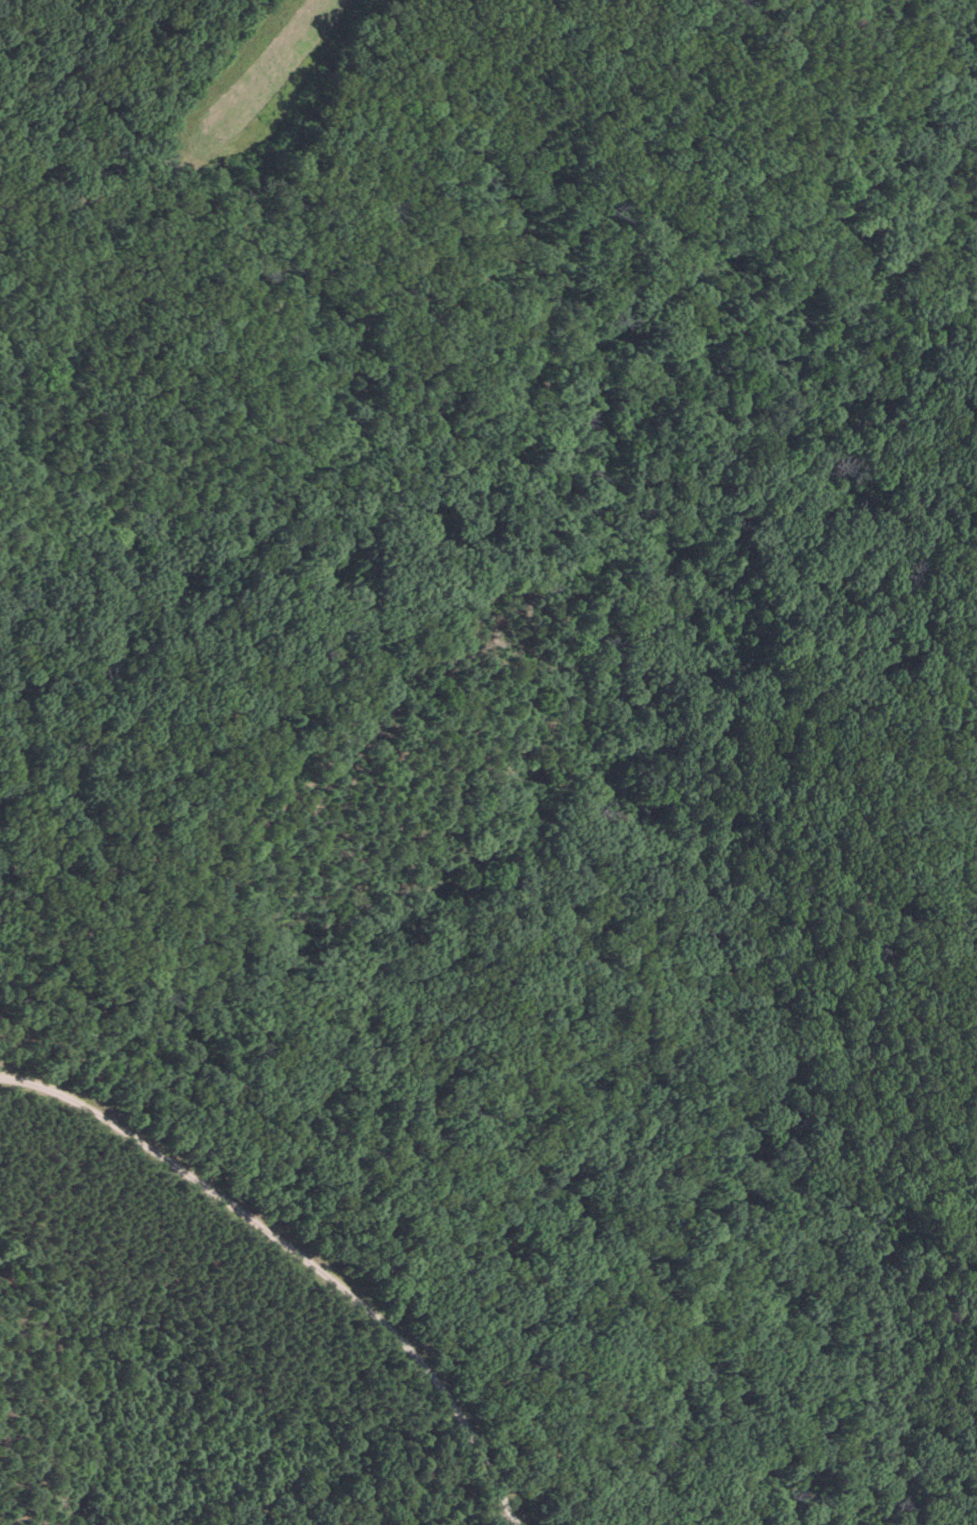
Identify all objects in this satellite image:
road: (298, 1256)

